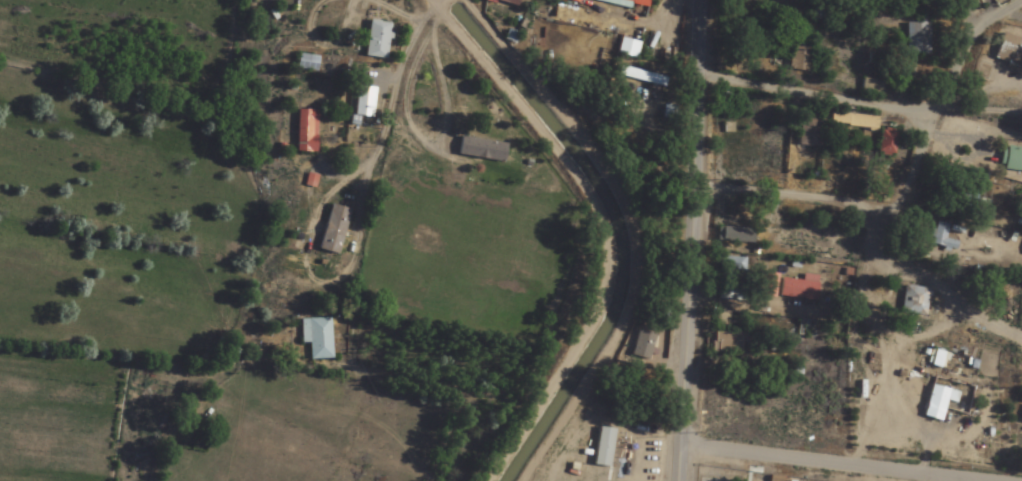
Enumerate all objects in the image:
road: (441, 1)
building: (503, 2)
building: (628, 3)
building: (821, 14)
building: (917, 38)
building: (375, 39)
building: (627, 48)
building: (1007, 50)
road: (993, 52)
building: (800, 57)
road: (323, 60)
building: (305, 62)
building: (644, 77)
road: (838, 79)
building: (871, 87)
building: (363, 102)
building: (853, 121)
building: (305, 131)
building: (809, 131)
building: (886, 142)
building: (480, 149)
road: (366, 157)
building: (1010, 159)
building: (955, 192)
building: (981, 207)
road: (880, 208)
building: (333, 230)
road: (979, 233)
building: (735, 236)
building: (942, 238)
road: (691, 240)
building: (728, 270)
building: (765, 285)
building: (796, 289)
building: (914, 301)
building: (315, 337)
building: (726, 342)
building: (641, 347)
road: (445, 376)
building: (937, 402)
building: (1021, 422)
road: (851, 455)

